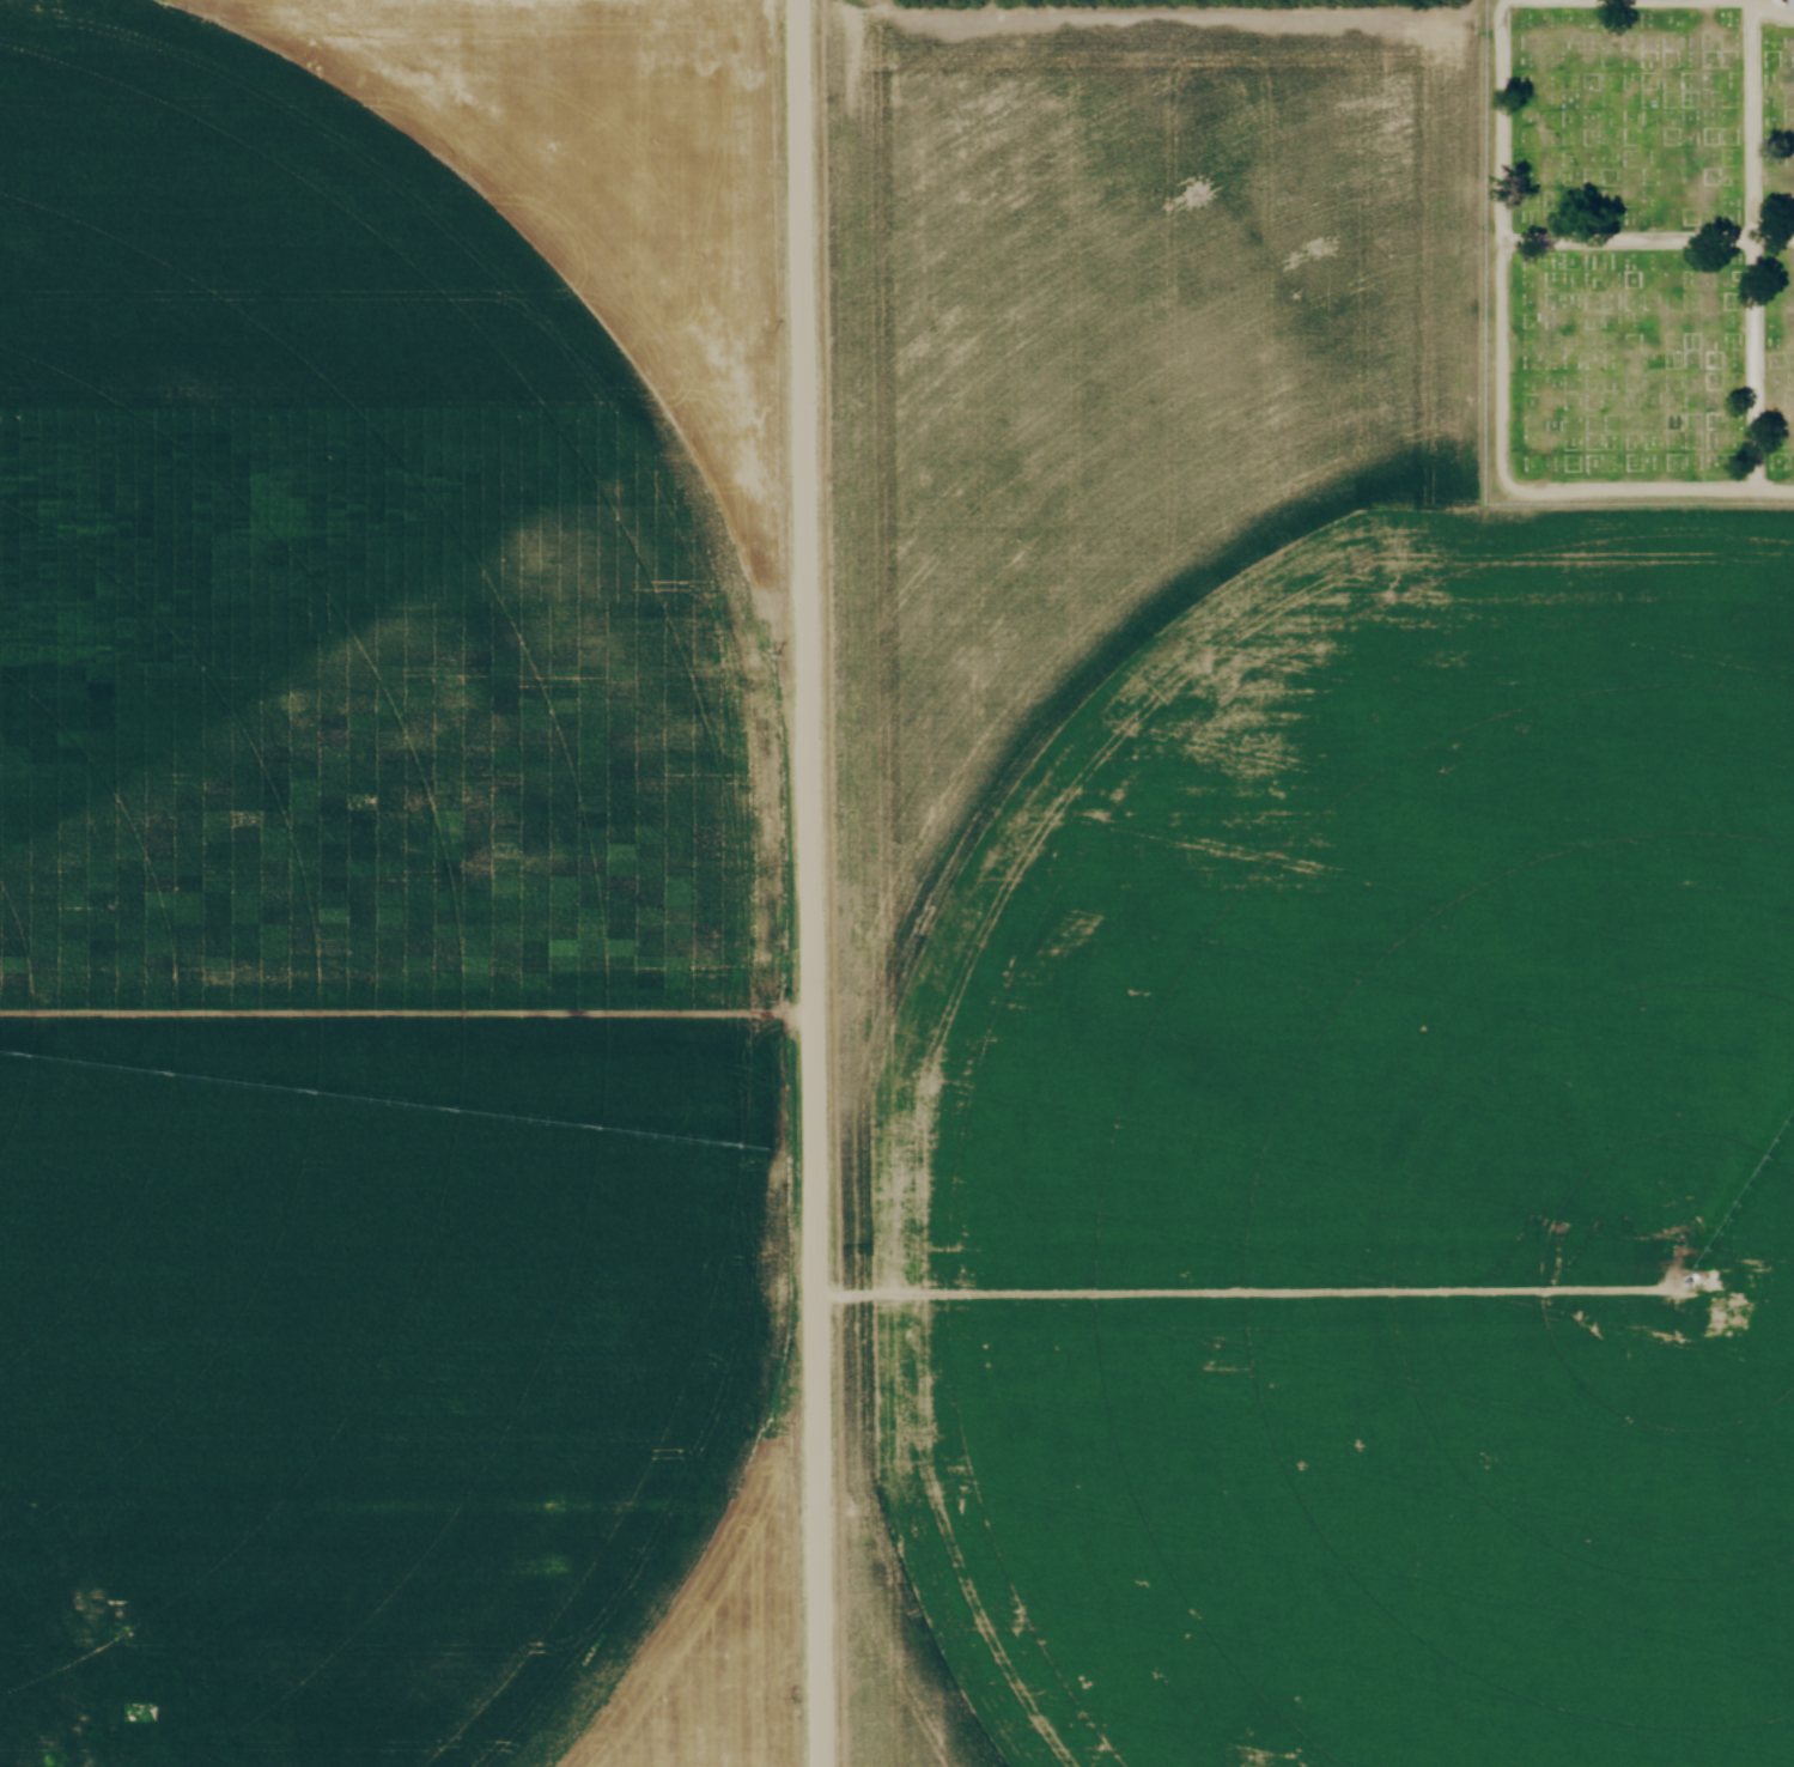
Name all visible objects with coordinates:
building: (1793, 4)
road: (1771, 16)
road: (1649, 238)
road: (1747, 245)
park: (1638, 254)
road: (1506, 387)
road: (811, 882)
building: (121, 1653)
building: (50, 1654)
road: (20, 1714)
building: (54, 1757)

